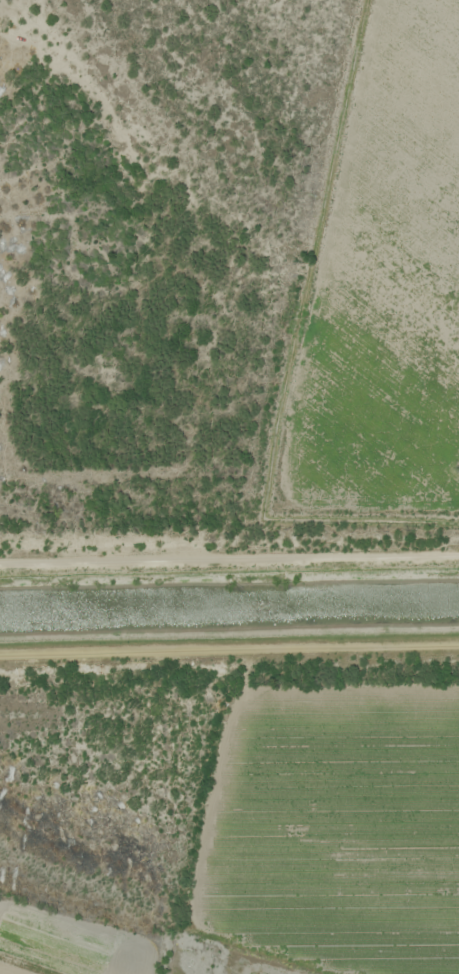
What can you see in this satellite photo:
road: (229, 554)
road: (229, 650)

